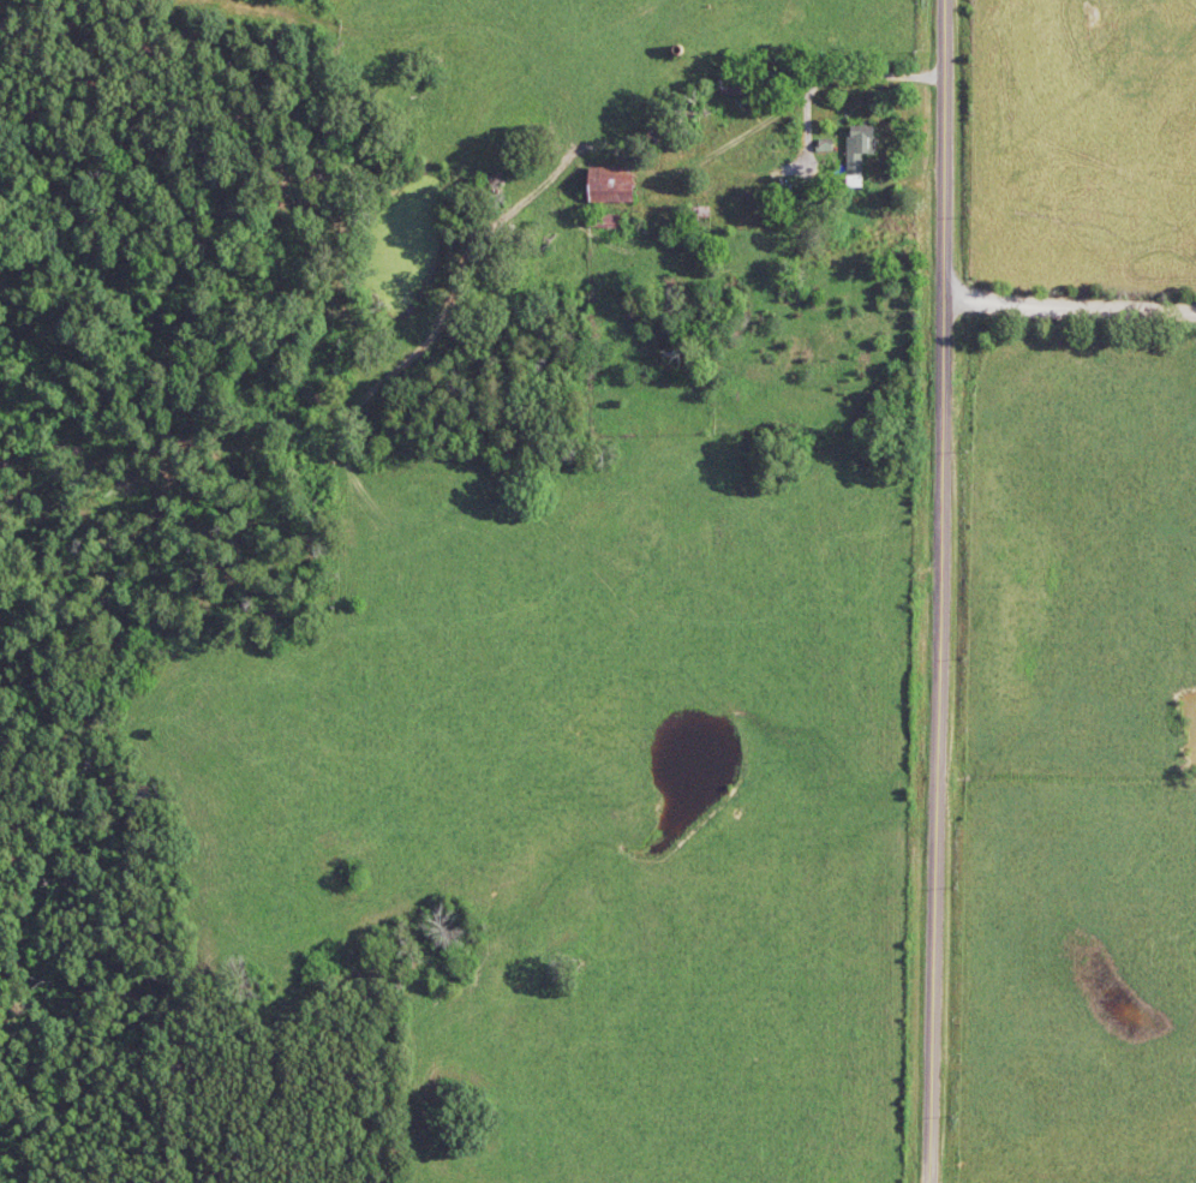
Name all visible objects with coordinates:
building: (724, 85)
building: (856, 155)
building: (609, 198)
building: (599, 226)
road: (1069, 299)
road: (939, 591)

